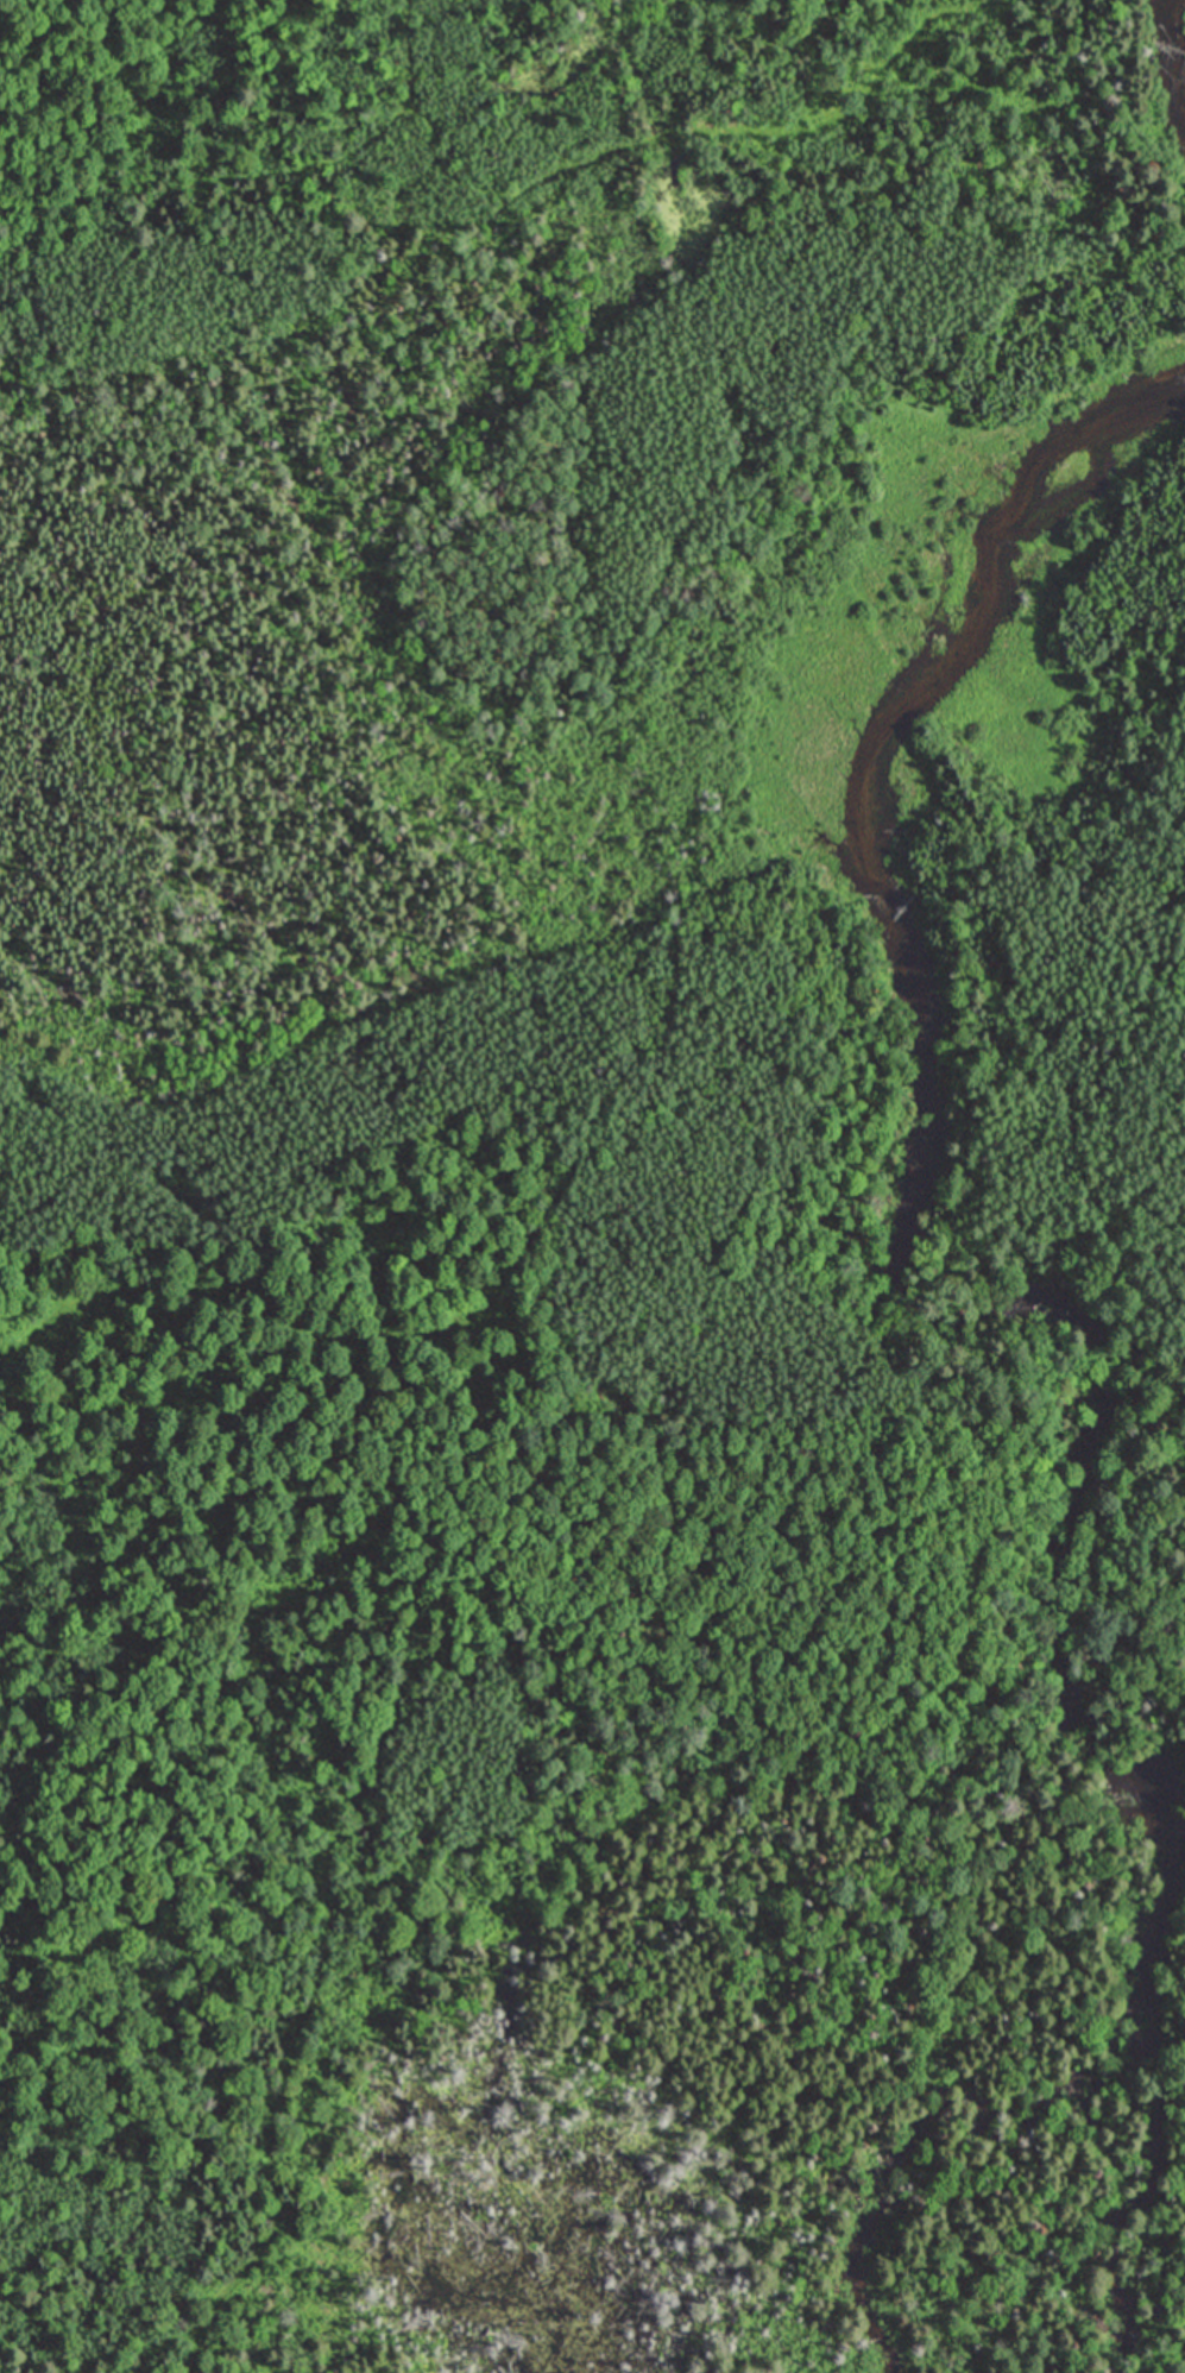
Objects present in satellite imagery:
river: (1172, 37)
river: (1073, 1311)

